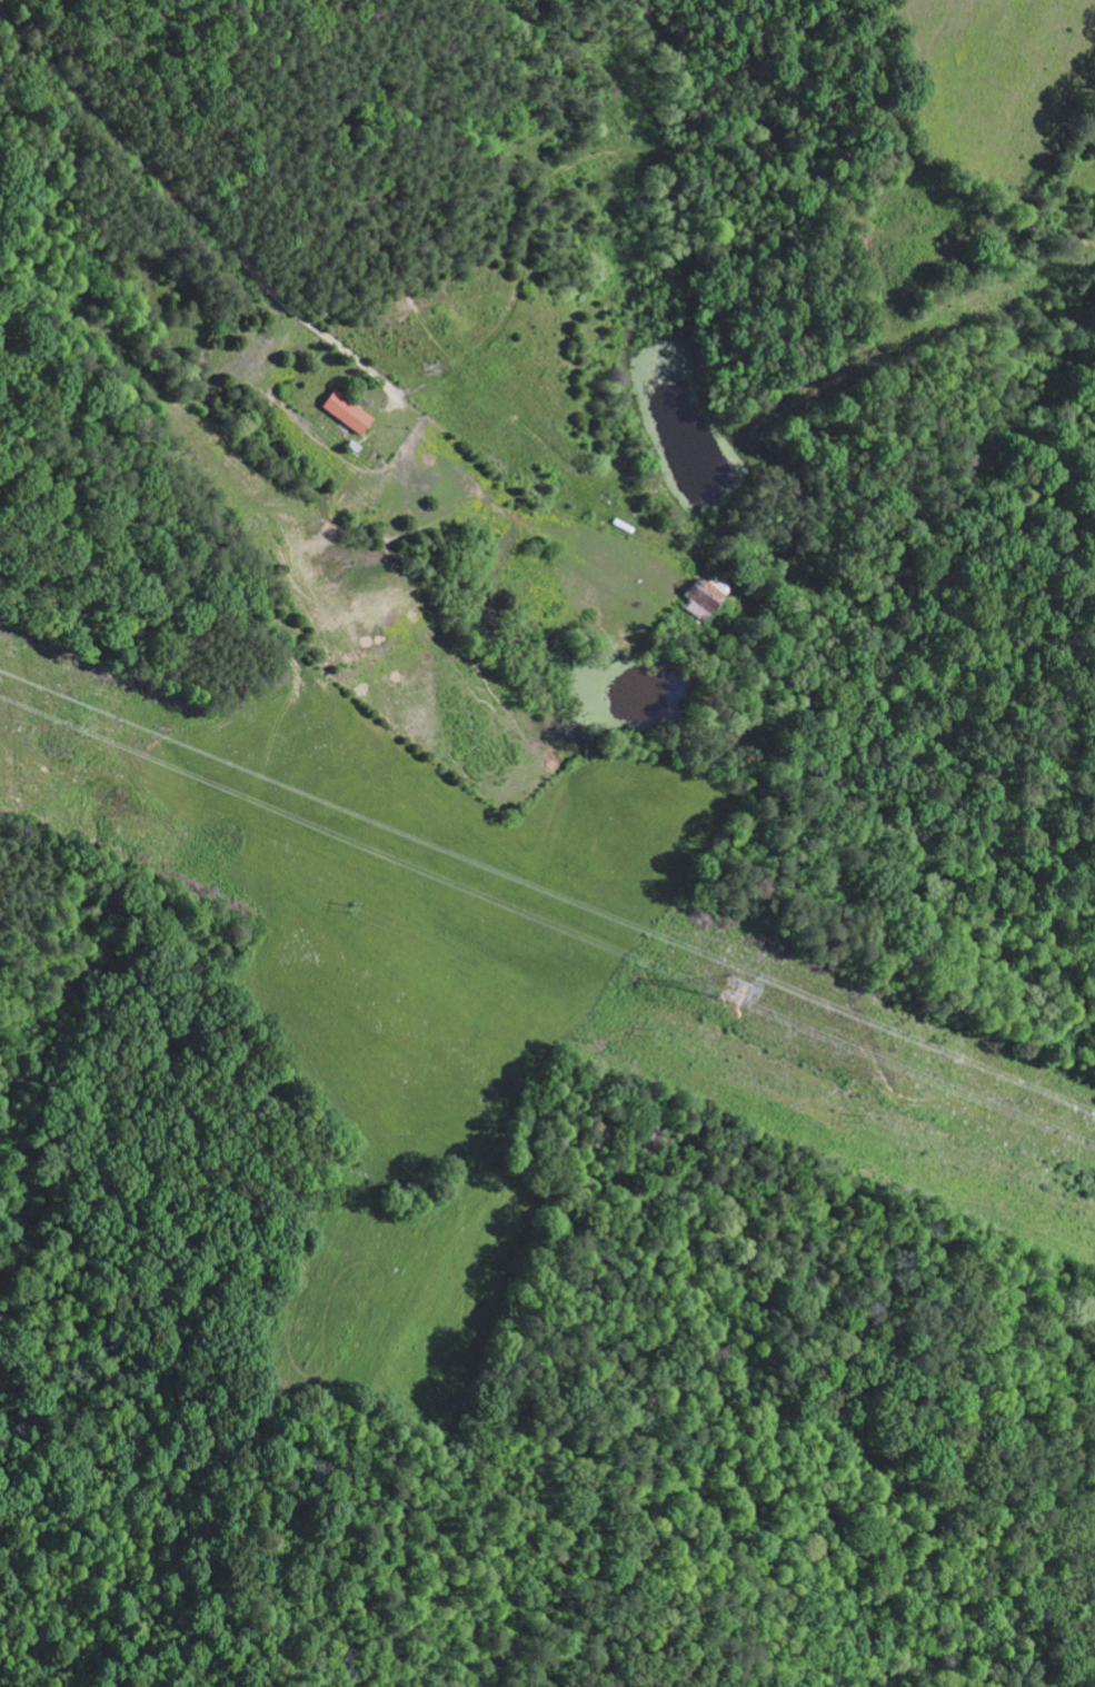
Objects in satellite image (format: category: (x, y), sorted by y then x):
road: (190, 209)
building: (341, 411)
power tower: (729, 988)

